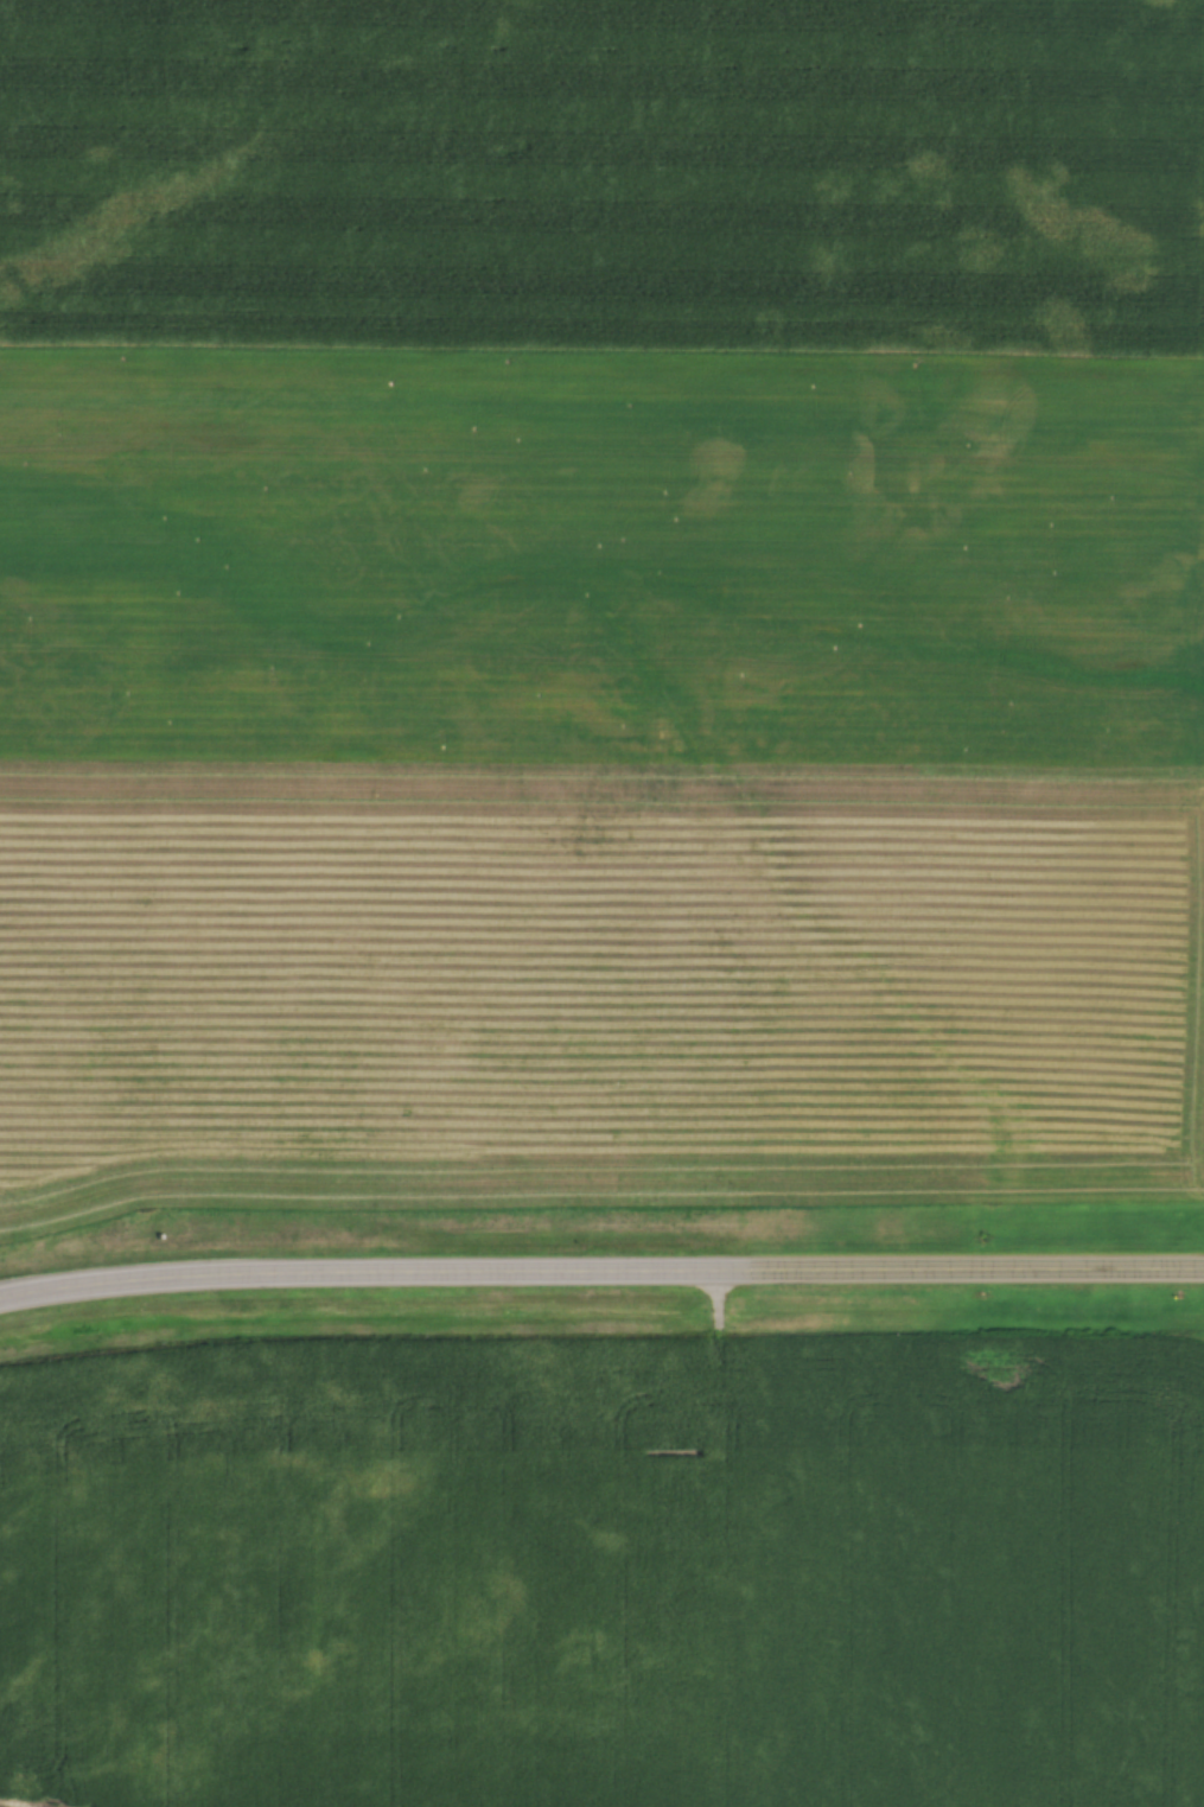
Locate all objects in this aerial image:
road: (600, 1278)

